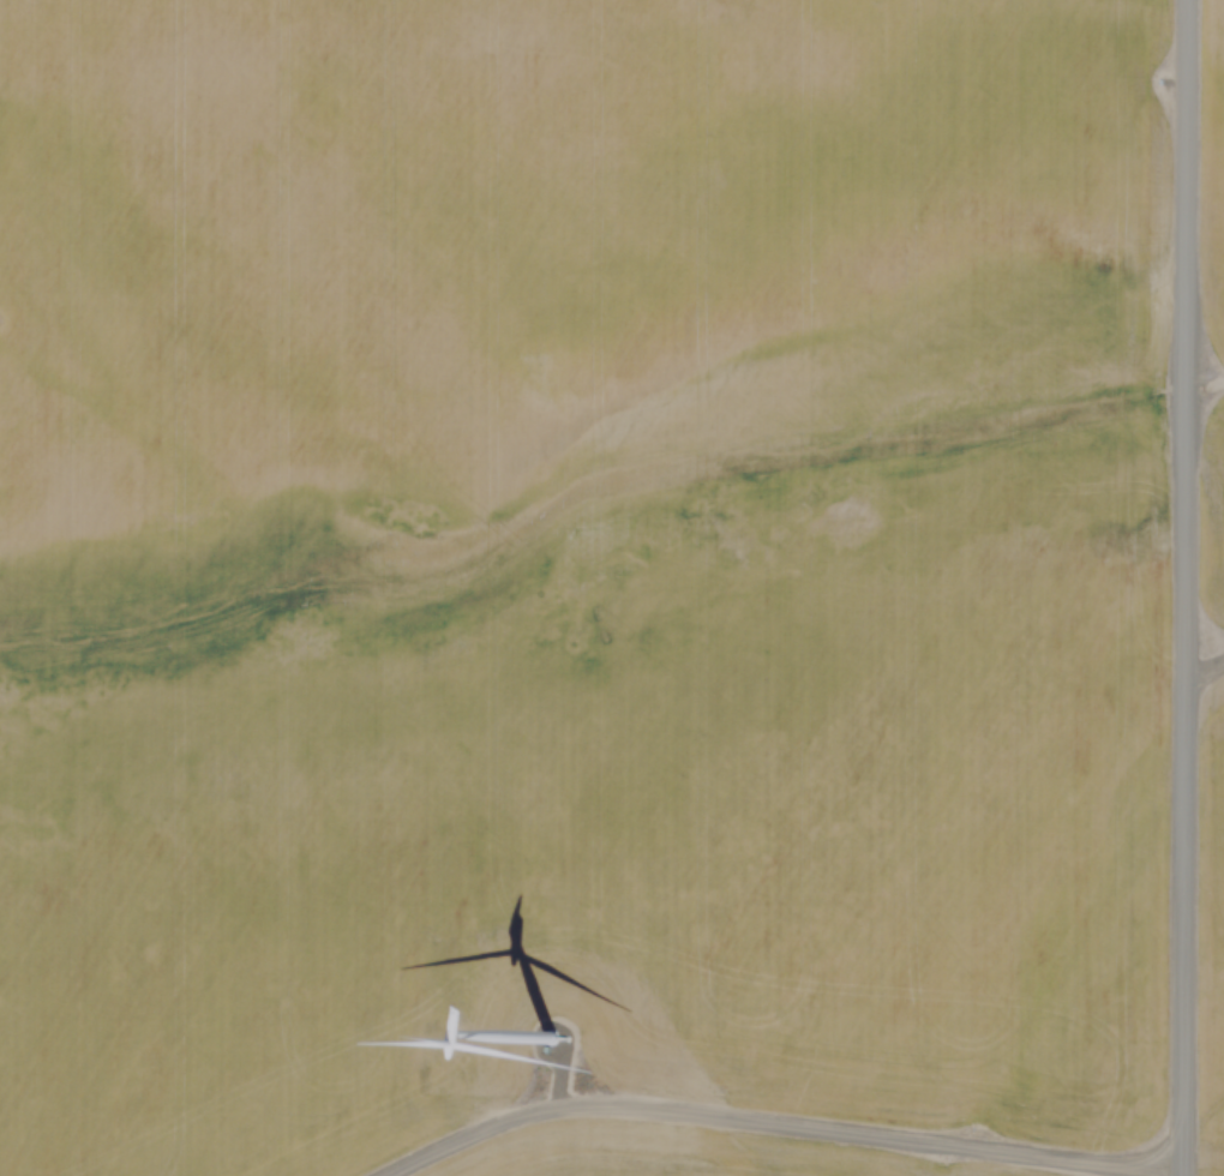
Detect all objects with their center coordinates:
road: (1177, 588)
road: (1201, 652)
wind turbine: (546, 1058)
road: (760, 1110)

